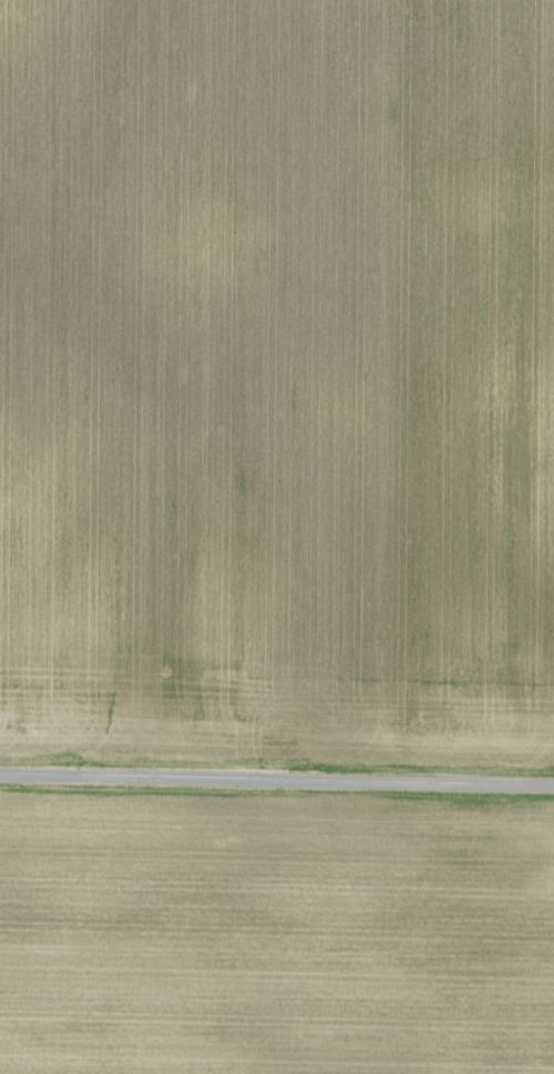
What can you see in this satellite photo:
road: (277, 780)

